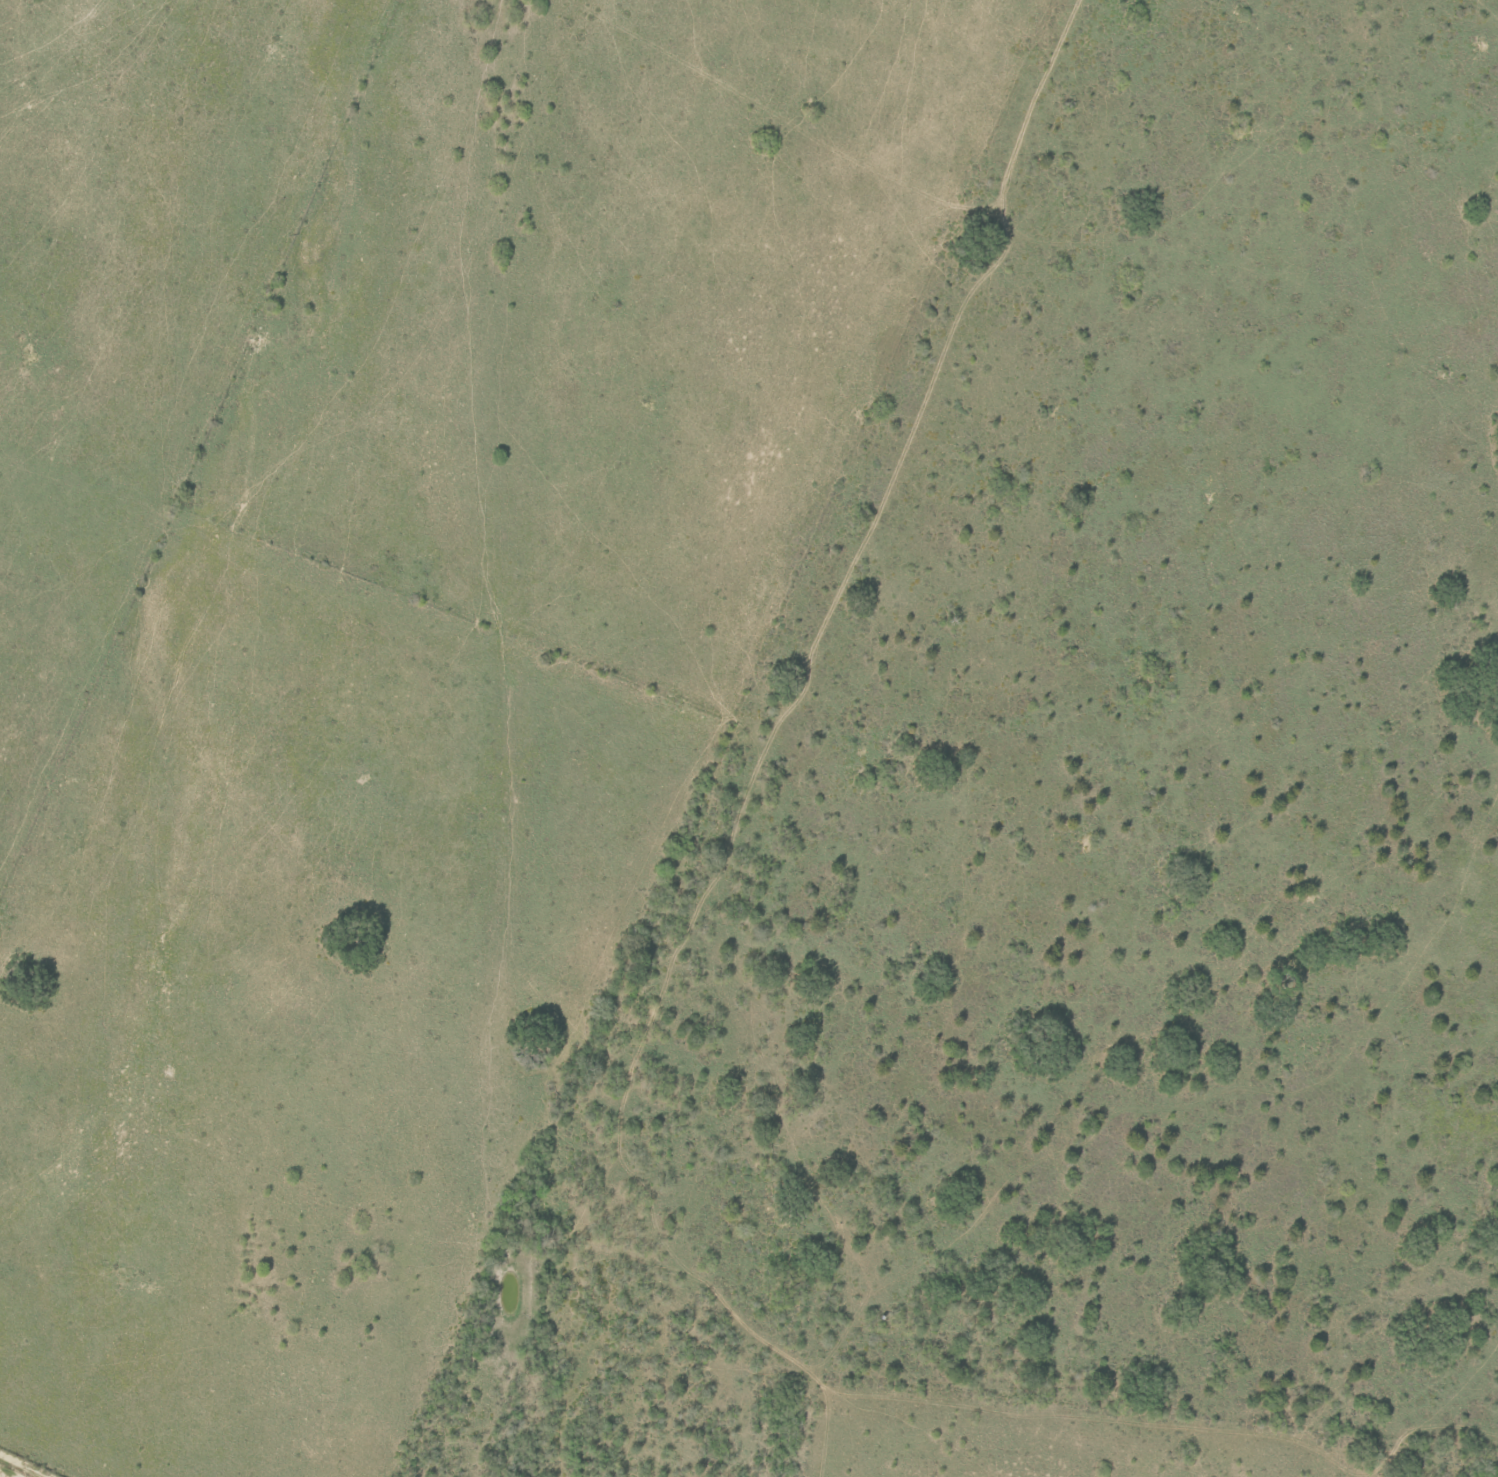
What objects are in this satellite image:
road: (1322, 286)

